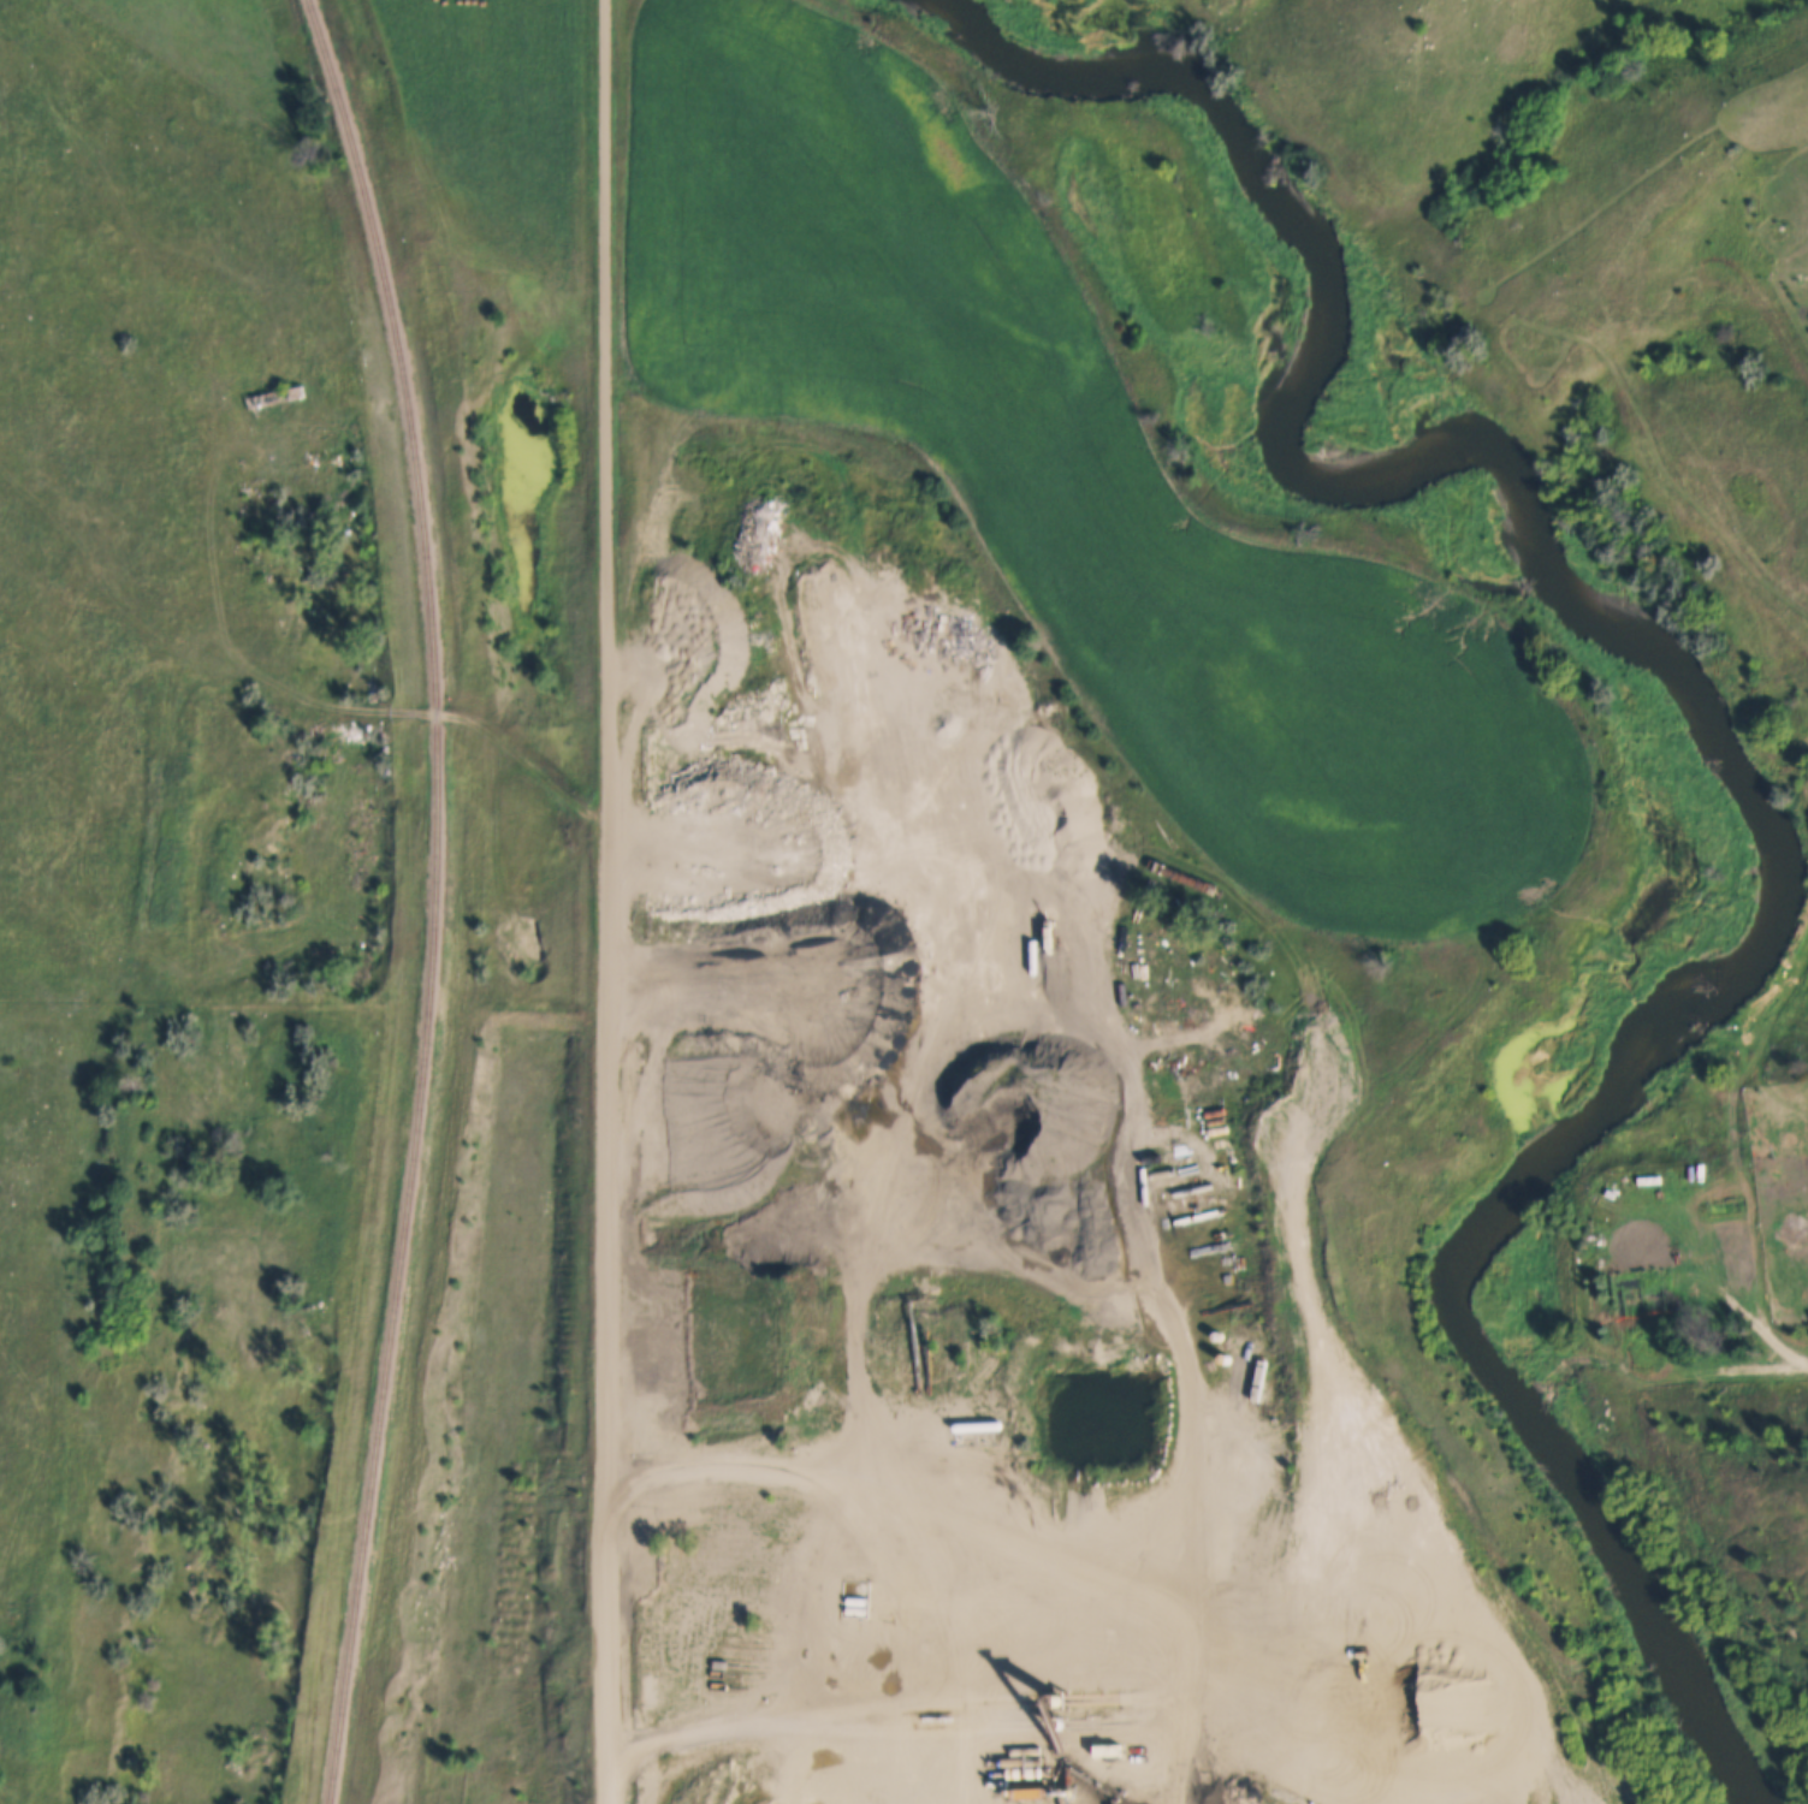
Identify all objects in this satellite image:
building: (277, 398)
river: (1707, 743)
railway: (423, 901)
road: (605, 902)
road: (788, 1182)
quarry: (1013, 1288)
road: (1191, 1321)
road: (1717, 1366)
road: (948, 1467)
road: (1292, 1525)
building: (854, 1604)

